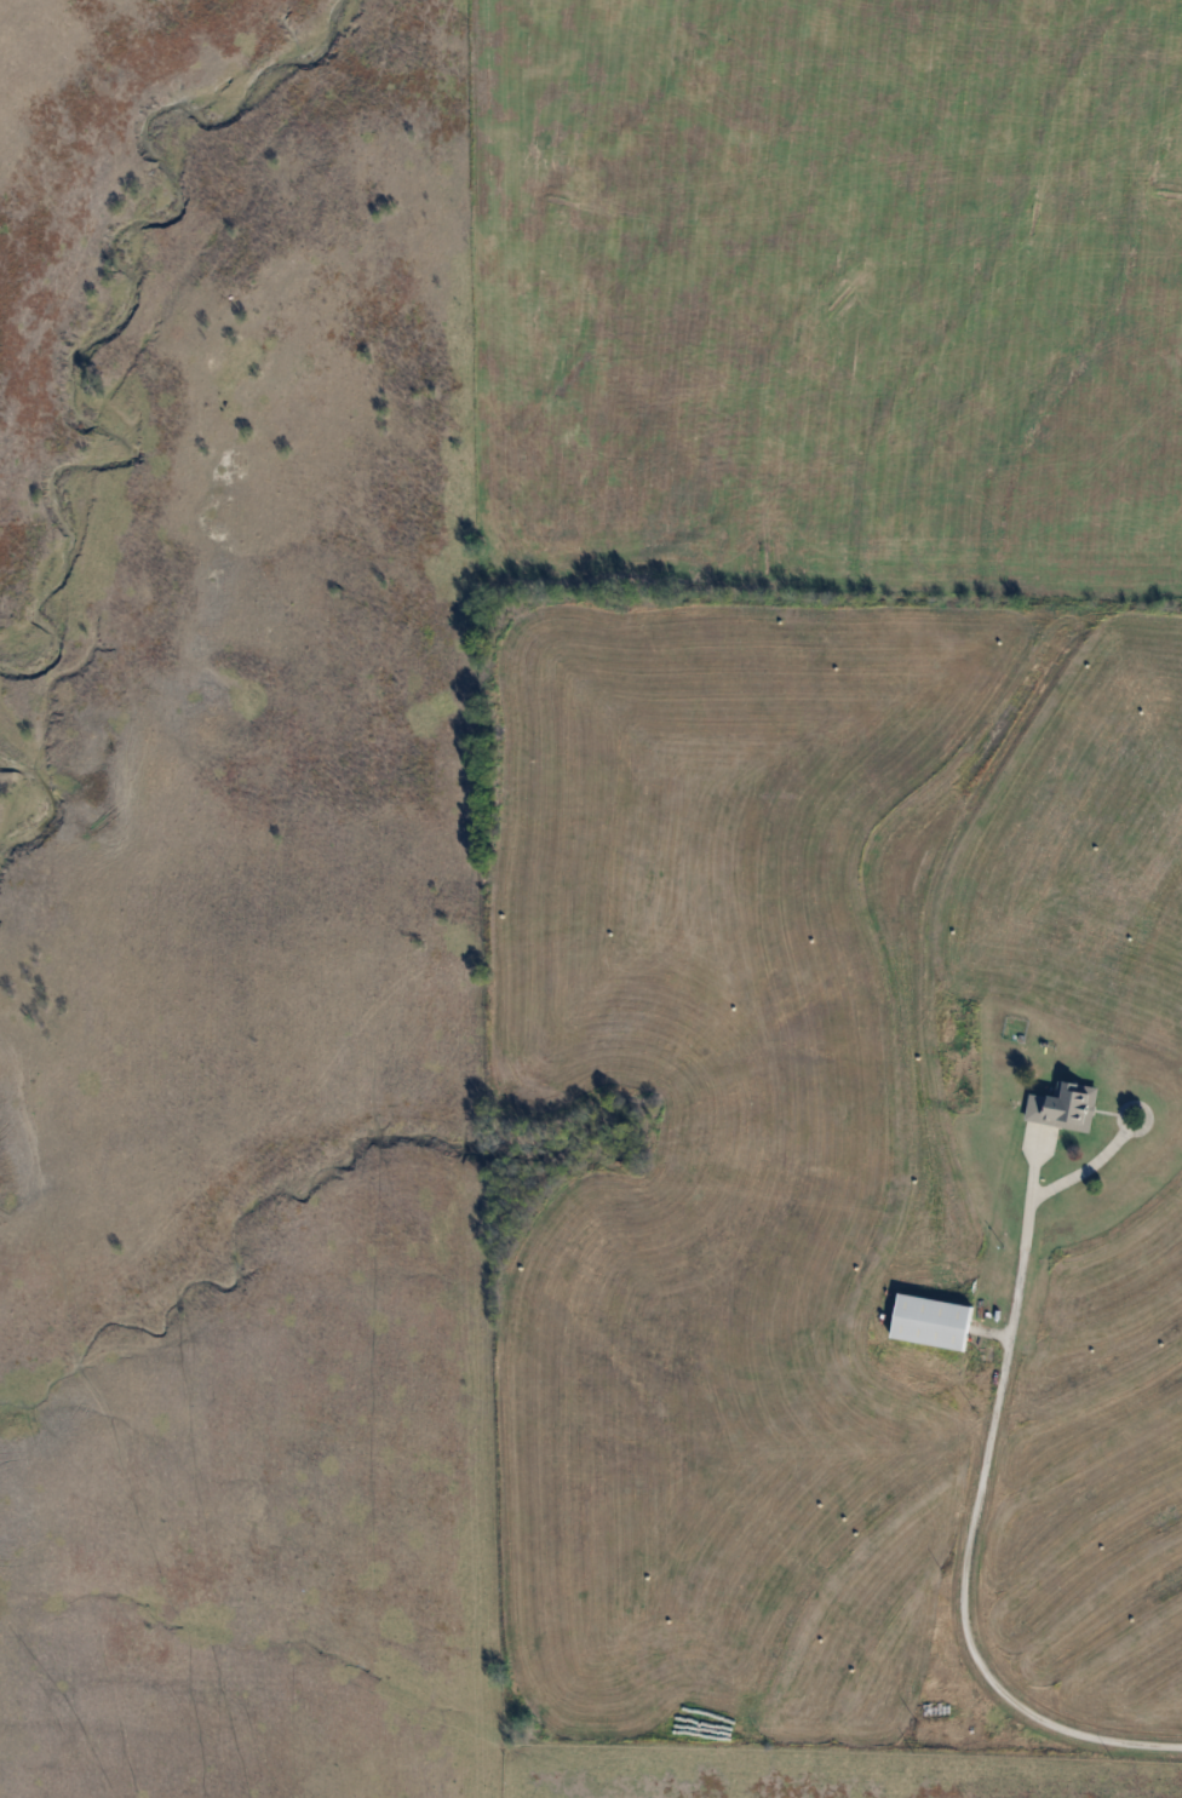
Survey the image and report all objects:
building: (1062, 1107)
building: (926, 1323)
road: (974, 1538)

